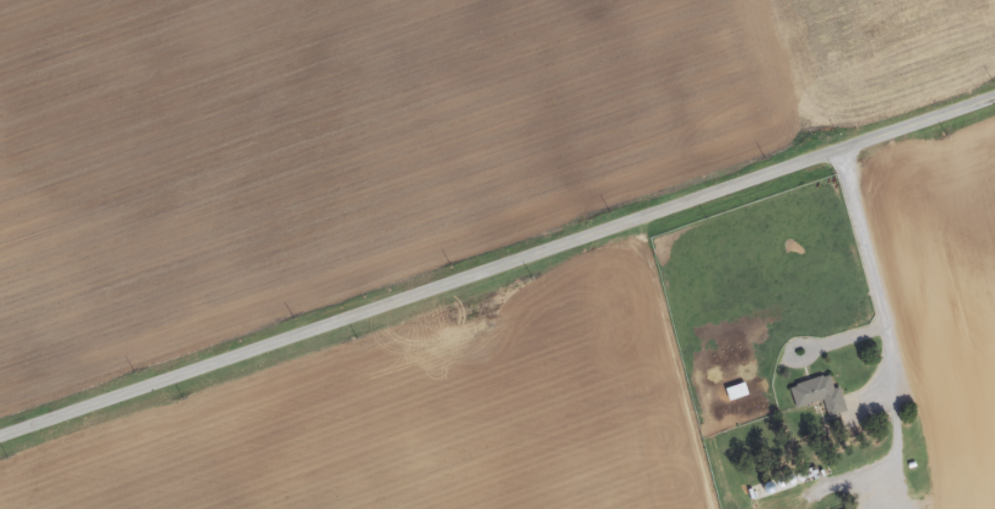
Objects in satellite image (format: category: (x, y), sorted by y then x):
road: (497, 265)
road: (920, 323)
building: (819, 395)

